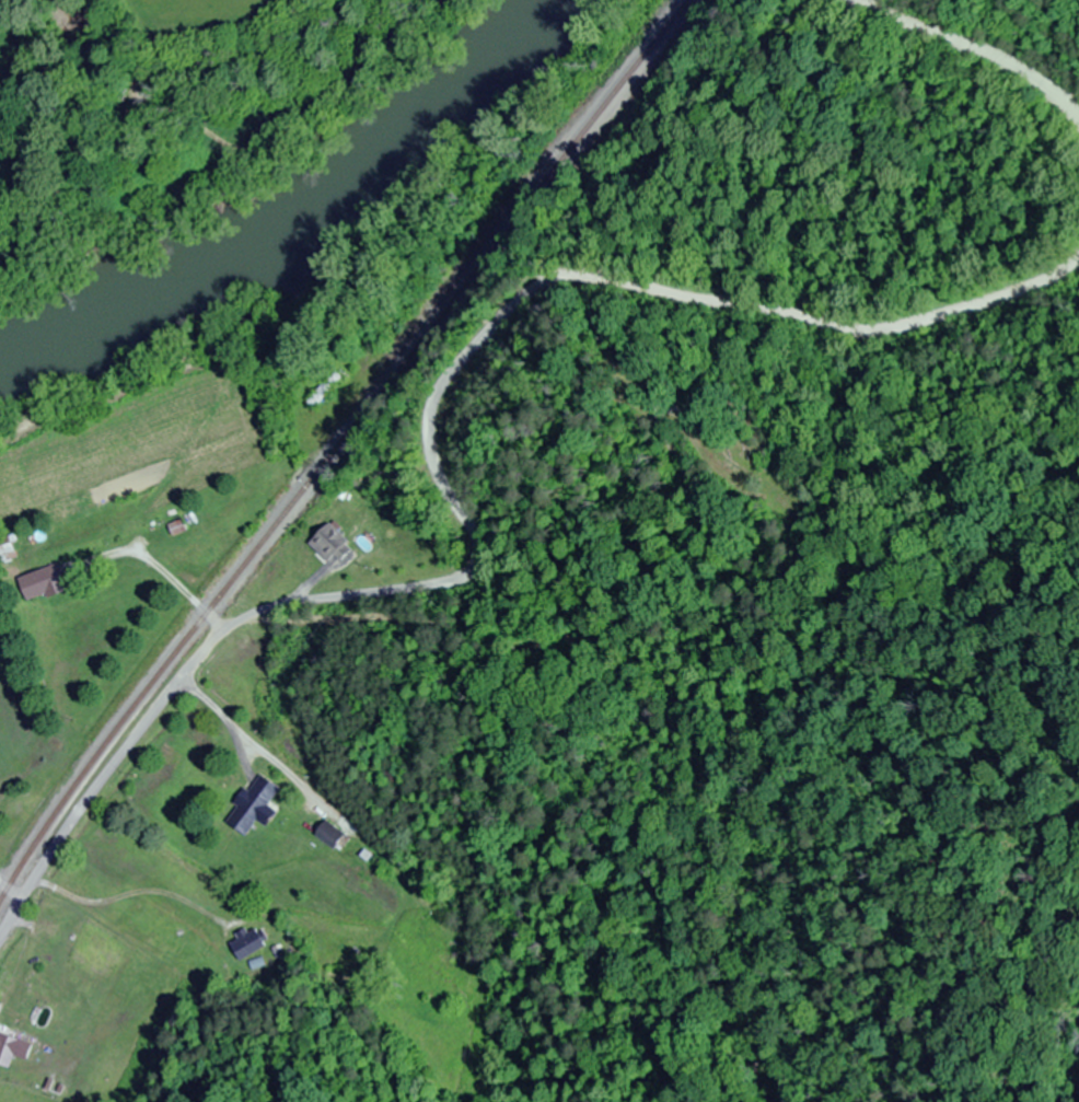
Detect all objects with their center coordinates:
road: (991, 54)
river: (289, 211)
road: (541, 291)
road: (704, 360)
building: (325, 391)
railway: (339, 444)
building: (327, 544)
building: (7, 553)
road: (160, 567)
building: (42, 583)
road: (532, 610)
road: (120, 757)
building: (252, 805)
building: (325, 834)
road: (11, 890)
road: (11, 917)
building: (245, 944)
building: (339, 979)
building: (5, 1049)

